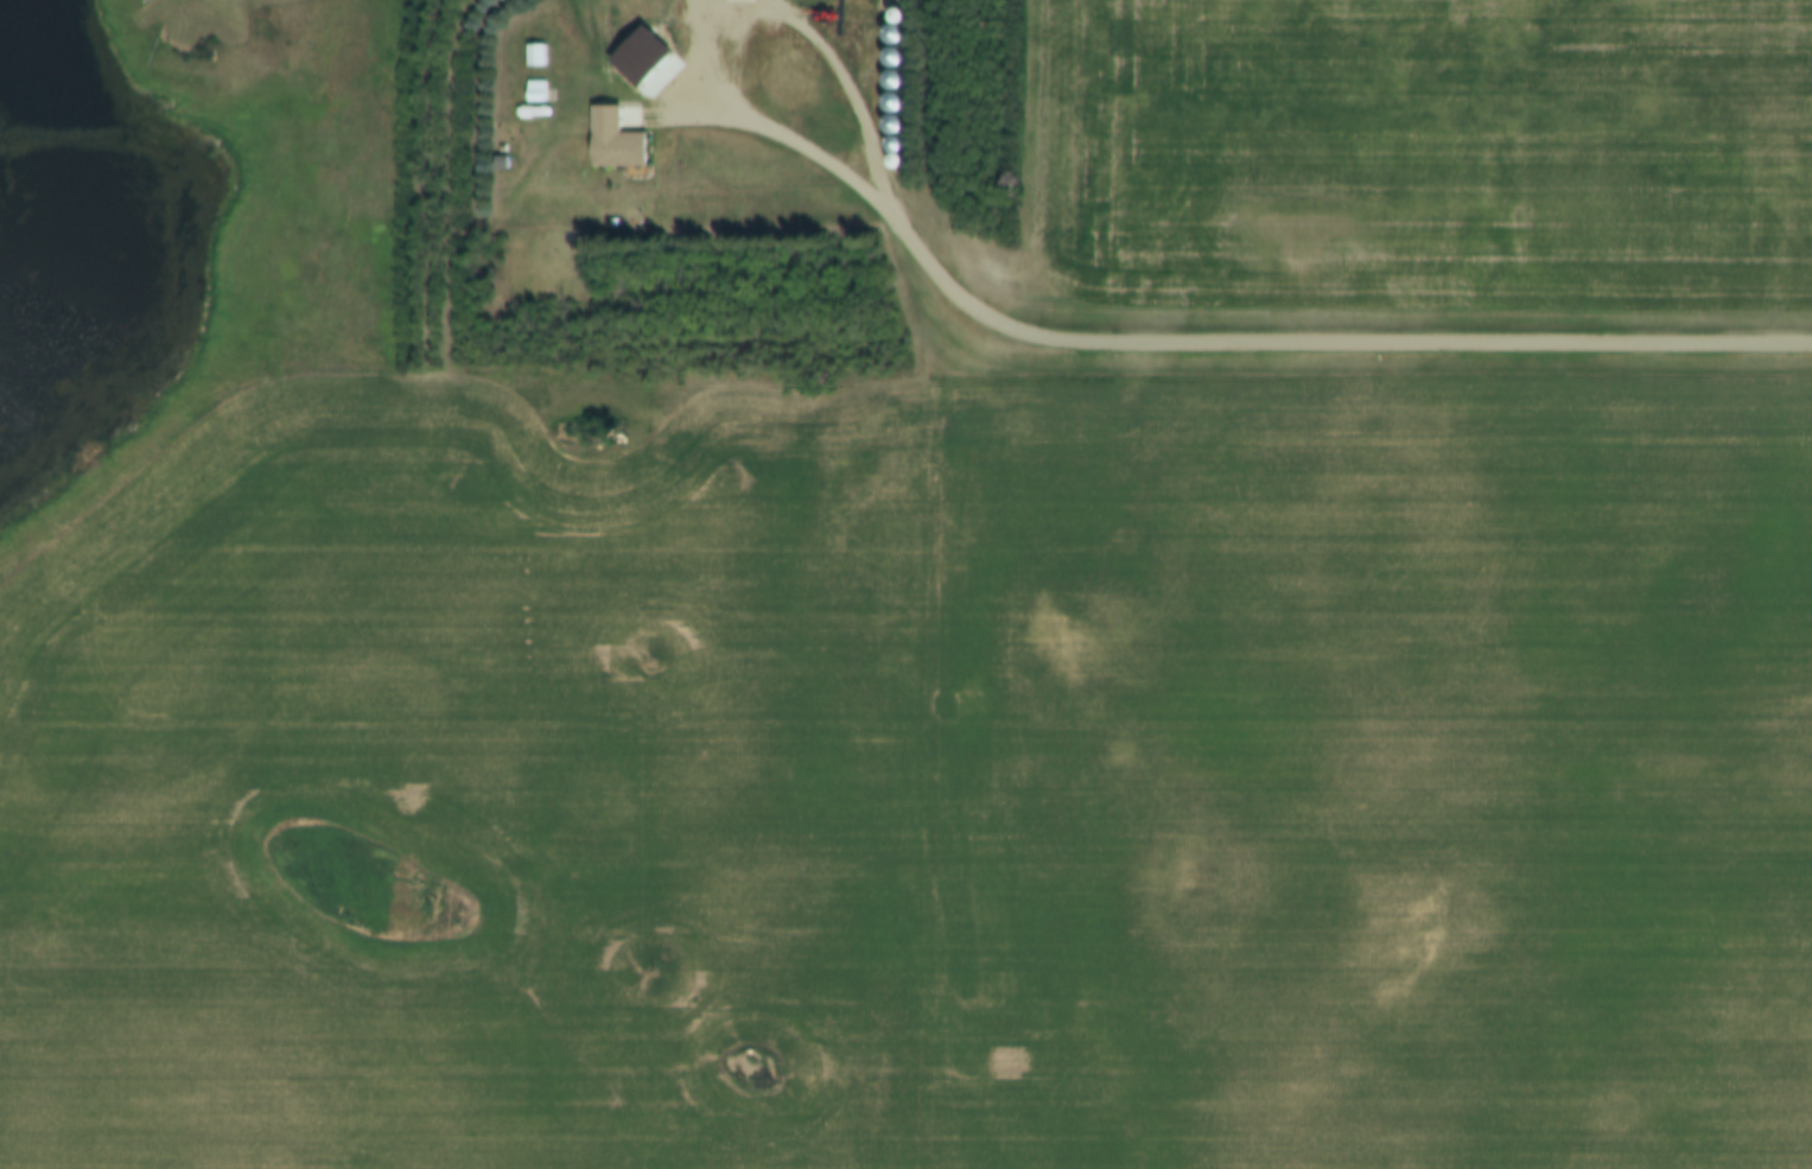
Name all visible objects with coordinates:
road: (721, 24)
building: (532, 53)
building: (532, 89)
building: (610, 139)
road: (1340, 339)

